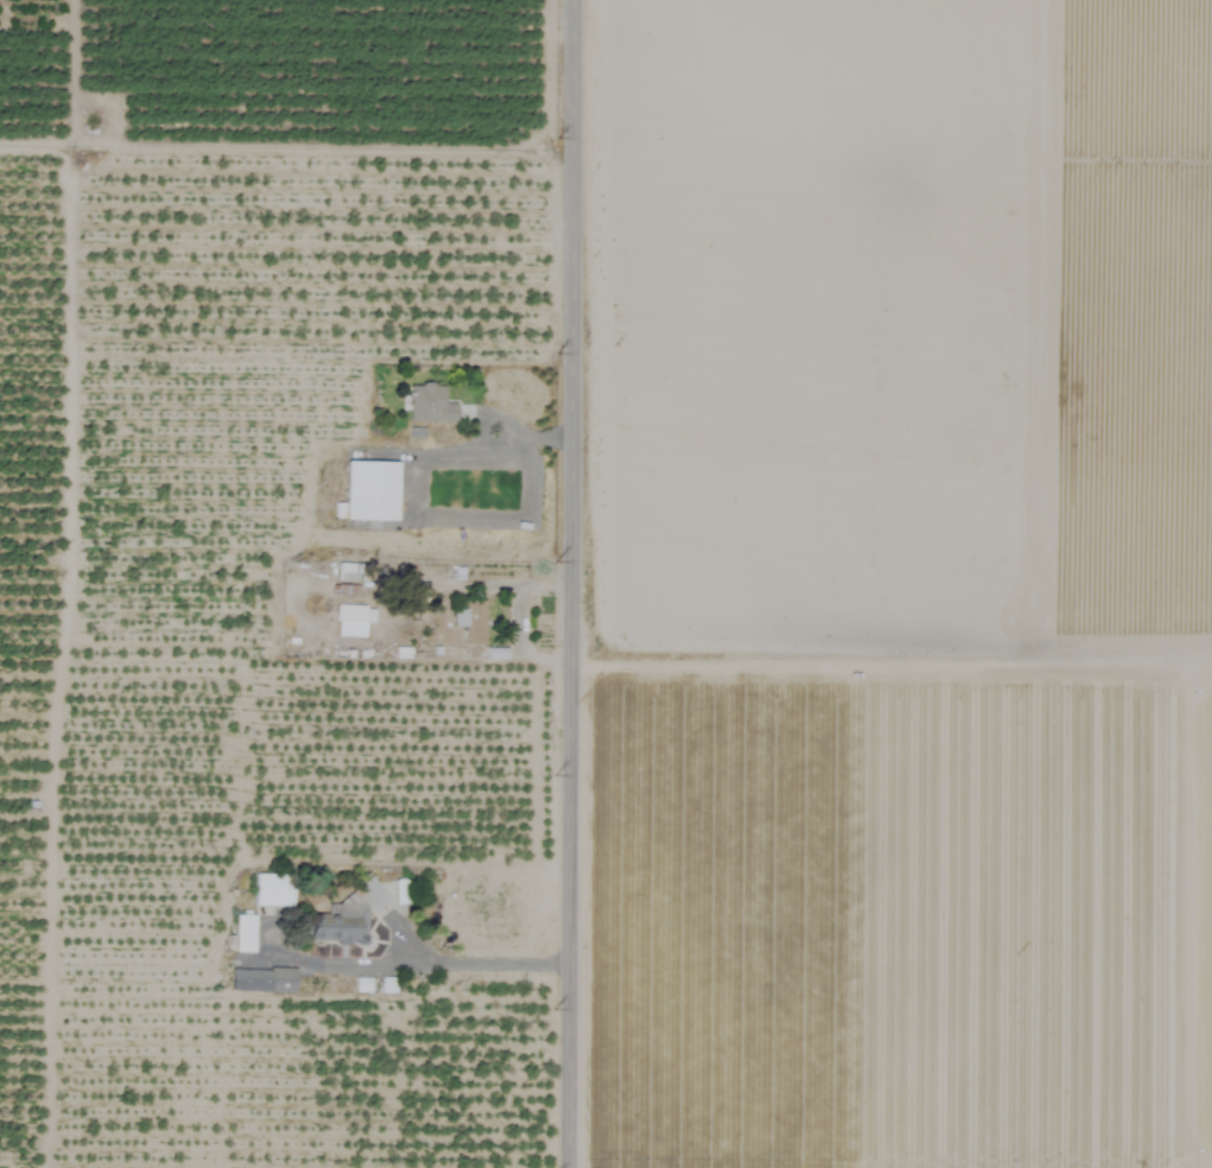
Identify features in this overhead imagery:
building: (429, 405)
building: (369, 491)
road: (570, 584)
crop: (605, 584)
building: (351, 621)
building: (470, 622)
building: (271, 890)
building: (399, 893)
building: (340, 923)
building: (243, 934)
road: (431, 960)
building: (261, 980)

